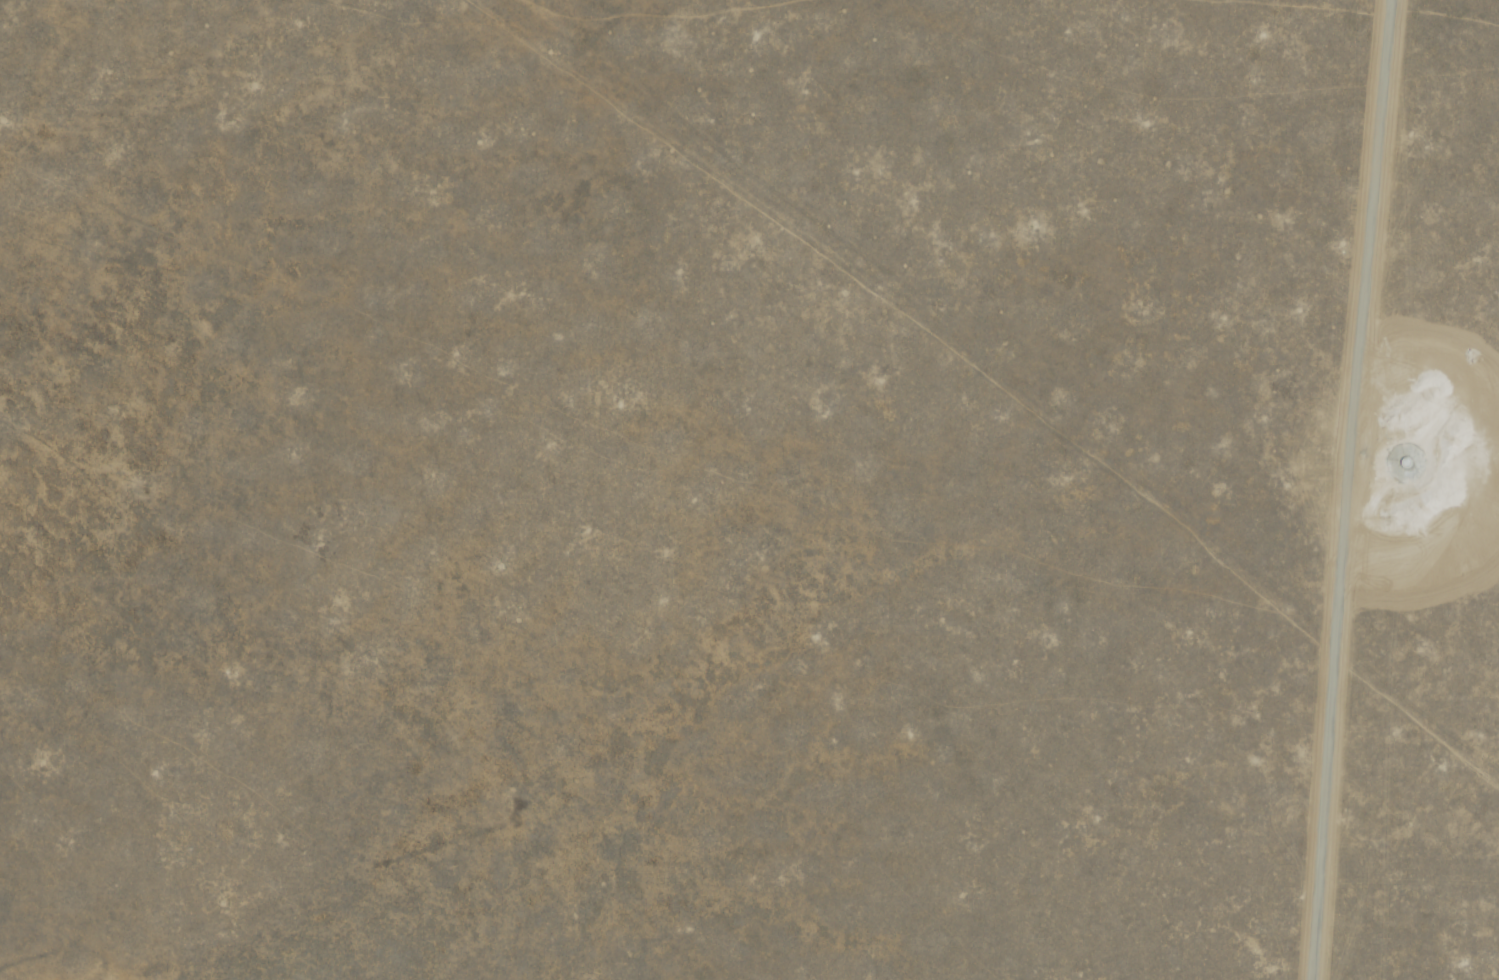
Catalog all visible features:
wind turbine: (1420, 459)

